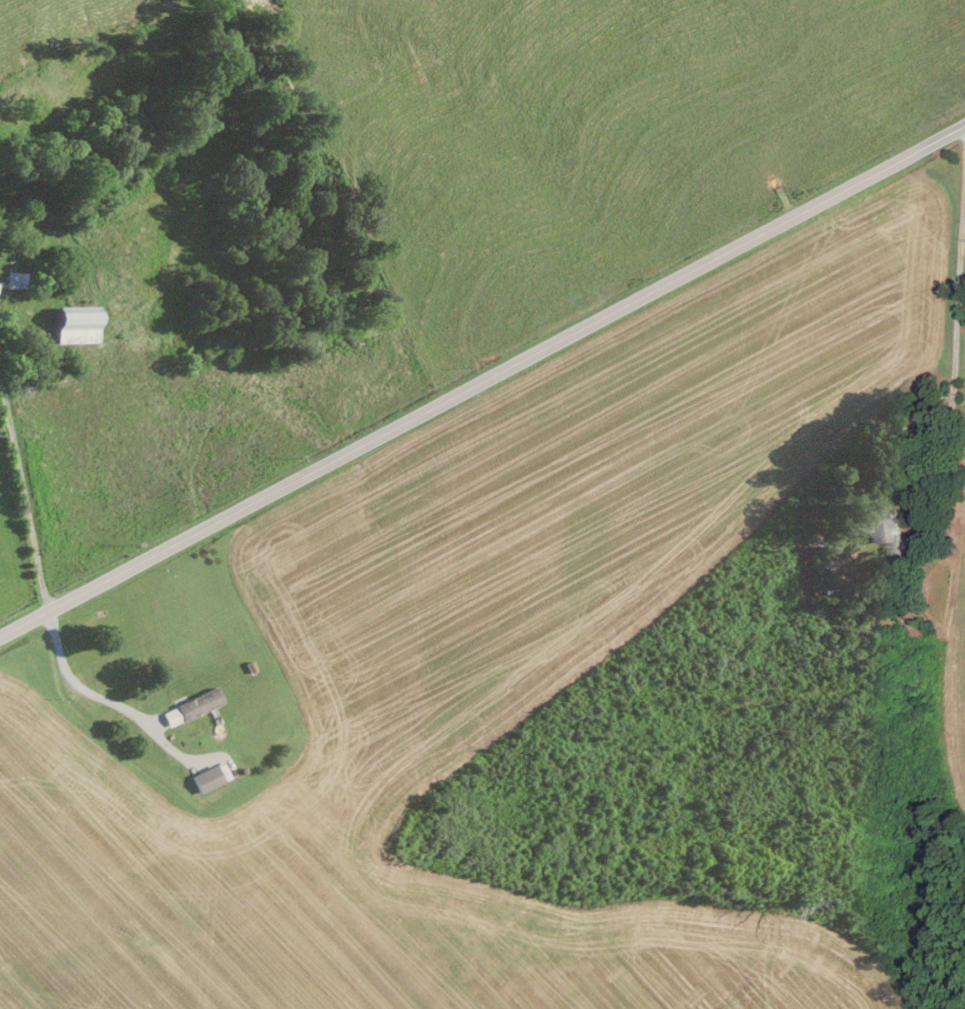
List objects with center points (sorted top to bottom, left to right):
crop: (73, 58)
road: (720, 107)
crop: (492, 217)
road: (958, 265)
building: (13, 279)
building: (74, 325)
road: (958, 369)
road: (482, 379)
crop: (958, 389)
road: (949, 390)
road: (926, 483)
road: (22, 503)
building: (875, 523)
crop: (505, 633)
crop: (953, 676)
road: (77, 686)
building: (197, 703)
building: (170, 716)
building: (205, 778)

